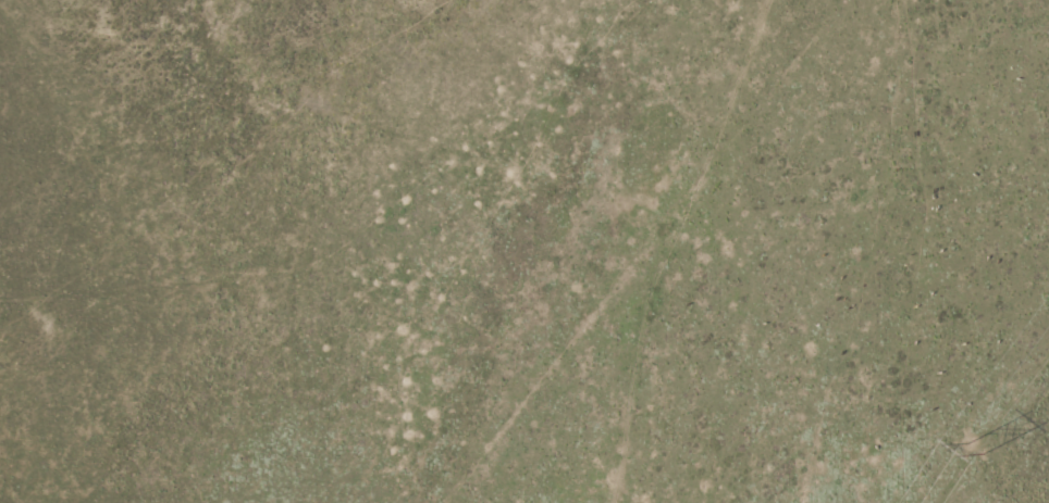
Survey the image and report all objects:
power tower: (958, 453)

